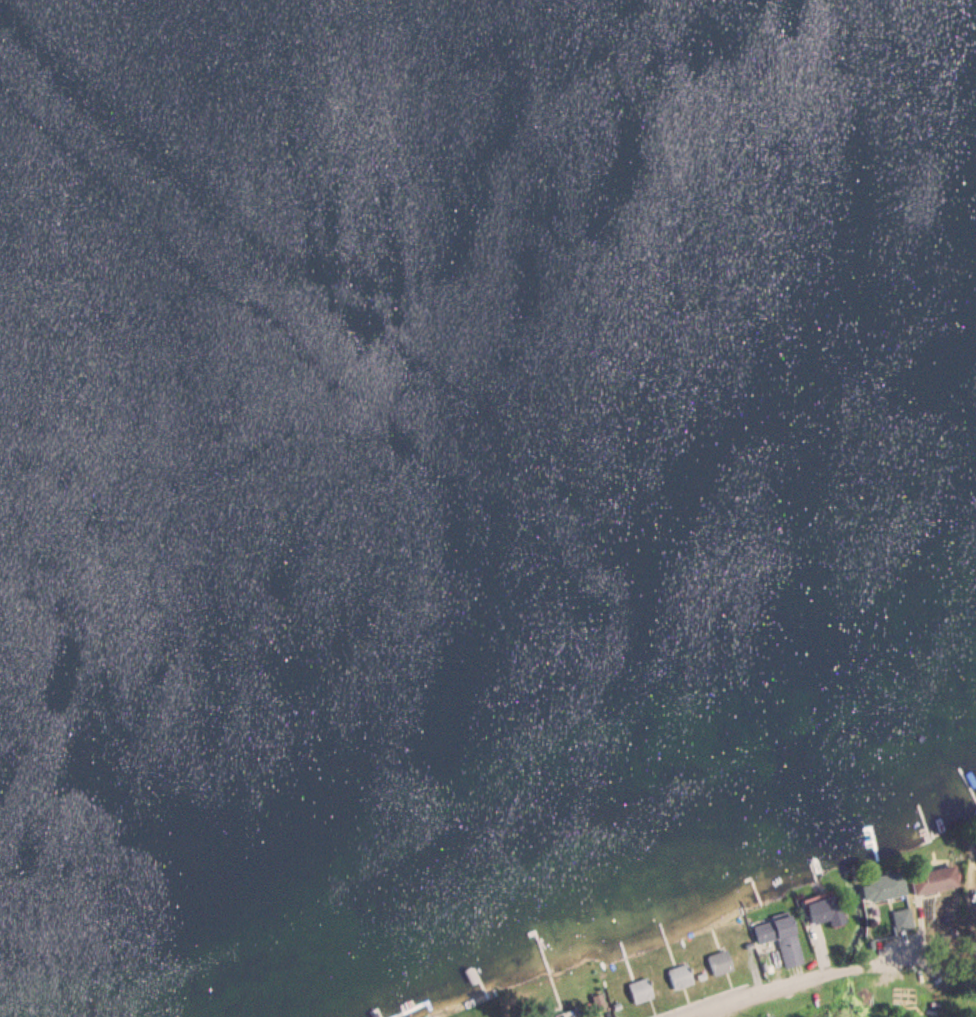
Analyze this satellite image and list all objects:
building: (933, 881)
building: (882, 887)
building: (823, 912)
building: (901, 919)
building: (778, 938)
road: (767, 960)
building: (717, 962)
building: (677, 975)
building: (638, 989)
building: (563, 1016)

